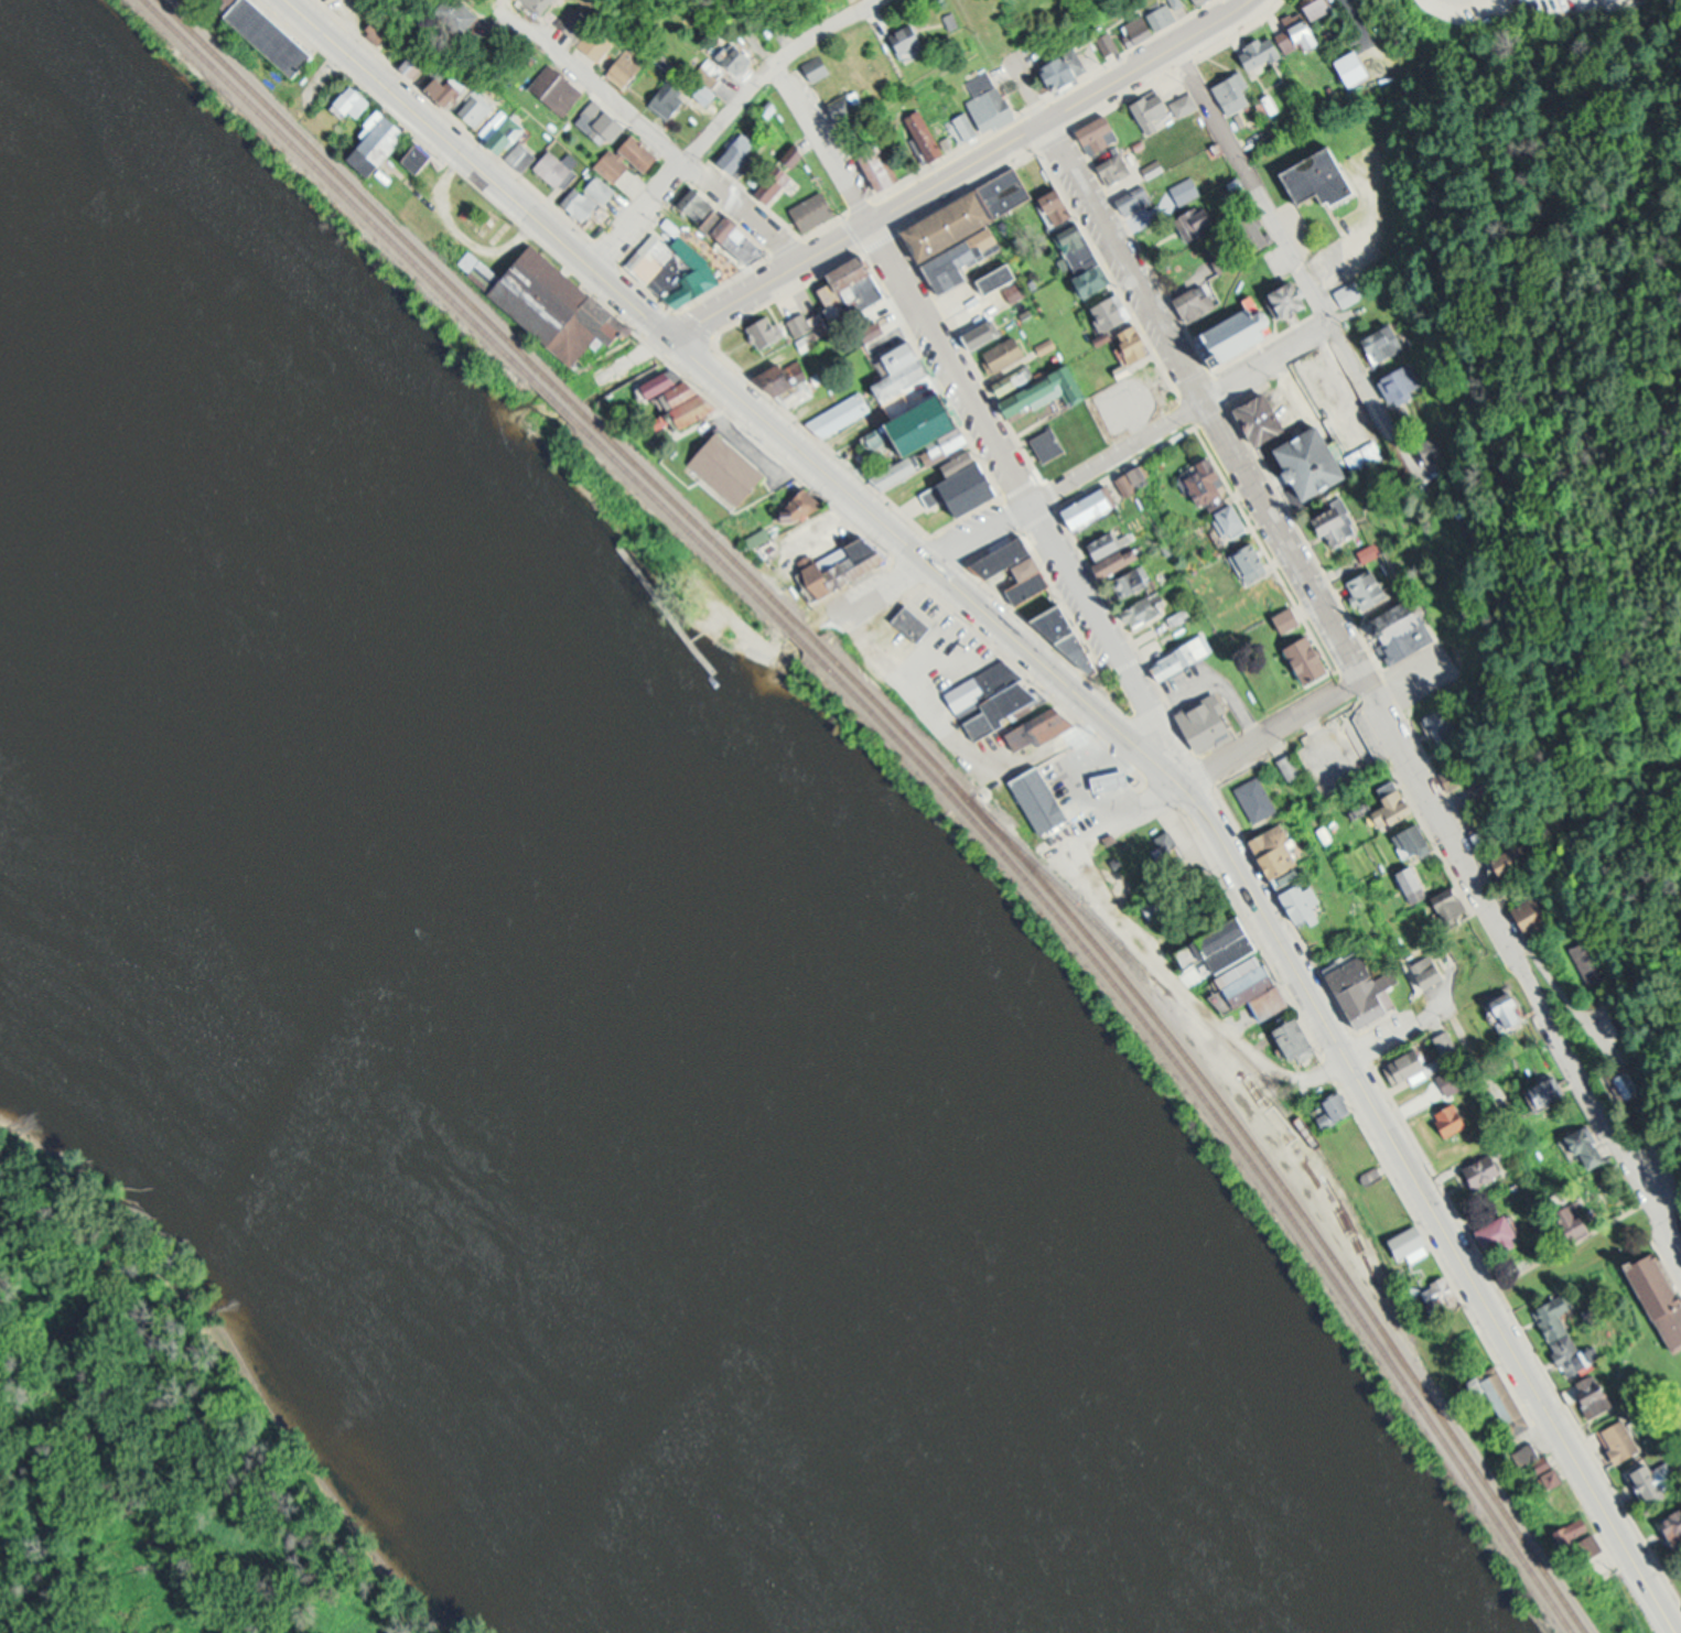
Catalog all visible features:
building: (1199, 0)
building: (227, 2)
building: (463, 13)
building: (575, 19)
building: (776, 20)
building: (1149, 23)
building: (376, 33)
building: (277, 34)
building: (1291, 35)
building: (913, 39)
building: (597, 43)
building: (740, 58)
building: (1077, 61)
building: (417, 62)
building: (1351, 64)
building: (822, 67)
building: (626, 74)
building: (557, 84)
building: (455, 91)
building: (1237, 93)
building: (674, 98)
building: (993, 99)
building: (356, 101)
building: (477, 108)
building: (1162, 108)
building: (853, 109)
building: (603, 120)
road: (723, 125)
building: (967, 128)
building: (1102, 132)
building: (931, 136)
building: (508, 138)
building: (382, 143)
road: (661, 145)
building: (741, 151)
building: (420, 156)
building: (625, 160)
building: (880, 165)
road: (960, 167)
building: (554, 169)
building: (1116, 169)
building: (1155, 169)
building: (1317, 173)
railway: (353, 184)
railway: (338, 187)
building: (601, 188)
building: (1185, 191)
building: (1138, 201)
building: (581, 204)
building: (698, 205)
building: (967, 206)
building: (811, 207)
building: (1063, 208)
building: (1199, 220)
building: (746, 240)
road: (1292, 250)
building: (1222, 255)
building: (1087, 257)
road: (1124, 260)
building: (685, 270)
building: (1003, 278)
road: (906, 280)
building: (864, 282)
building: (1349, 292)
building: (552, 302)
building: (836, 303)
building: (1195, 305)
building: (1118, 313)
building: (886, 318)
building: (983, 323)
building: (809, 328)
building: (1237, 329)
building: (763, 334)
building: (1387, 342)
building: (1047, 346)
building: (1009, 353)
road: (636, 354)
building: (906, 368)
building: (779, 370)
building: (1397, 386)
building: (1039, 387)
road: (735, 388)
railway: (565, 390)
railway: (556, 396)
building: (682, 398)
building: (839, 411)
building: (1260, 414)
building: (935, 422)
building: (1046, 441)
building: (1364, 456)
road: (1088, 467)
building: (761, 475)
building: (976, 480)
building: (1209, 483)
building: (810, 501)
building: (1090, 507)
railway: (694, 517)
building: (1233, 520)
railway: (686, 524)
building: (1339, 524)
building: (761, 537)
building: (1116, 551)
building: (842, 559)
building: (1252, 562)
building: (1016, 567)
building: (1133, 582)
building: (1369, 590)
building: (1144, 610)
building: (1285, 614)
building: (910, 620)
railway: (809, 630)
building: (1065, 630)
railway: (801, 638)
building: (1408, 640)
road: (1104, 642)
building: (1182, 657)
building: (1311, 662)
building: (993, 694)
building: (1205, 721)
building: (1440, 726)
building: (1041, 729)
road: (950, 745)
road: (1236, 749)
building: (1292, 767)
building: (1110, 769)
building: (1451, 778)
gas station: (1038, 796)
building: (1254, 797)
building: (1042, 799)
building: (1396, 805)
road: (1447, 825)
river: (251, 826)
building: (1485, 836)
building: (1416, 842)
building: (1170, 856)
building: (1282, 857)
building: (1416, 884)
building: (1305, 902)
building: (1453, 905)
building: (1595, 960)
building: (1248, 970)
building: (1430, 970)
building: (1364, 991)
building: (1512, 1009)
building: (1628, 1021)
river: (499, 1036)
railway: (1225, 1040)
building: (1300, 1040)
road: (1370, 1045)
building: (1451, 1047)
road: (1477, 1057)
building: (1410, 1068)
building: (1452, 1080)
building: (1632, 1086)
building: (1658, 1091)
building: (1550, 1094)
building: (1339, 1107)
railway: (1231, 1114)
railway: (1220, 1117)
building: (1453, 1118)
building: (1590, 1143)
building: (1487, 1170)
road: (1432, 1205)
building: (1501, 1232)
building: (1415, 1245)
building: (1658, 1291)
river: (754, 1328)
building: (1569, 1338)
building: (1596, 1394)
building: (1505, 1402)
building: (1624, 1442)
building: (1539, 1463)
building: (1661, 1481)
building: (1674, 1525)
building: (1586, 1540)

